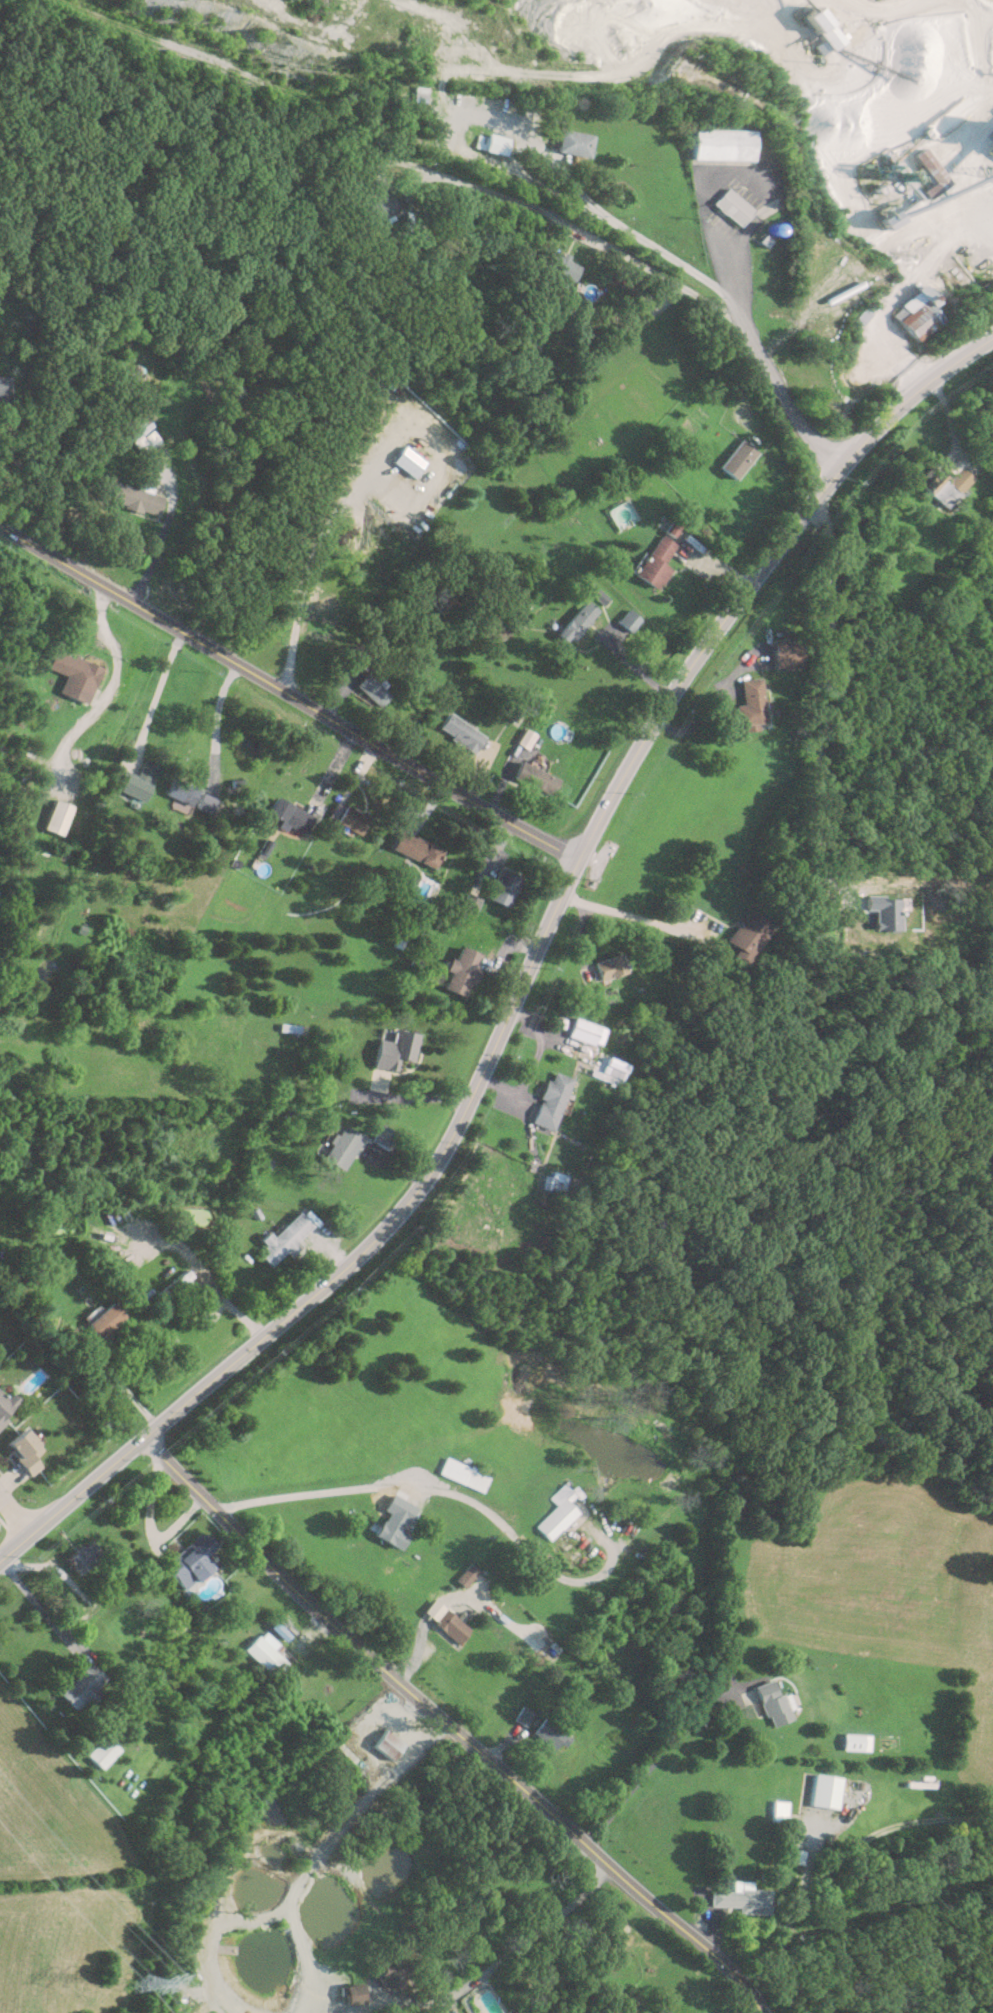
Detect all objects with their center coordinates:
building: (820, 27)
building: (572, 142)
building: (495, 143)
building: (716, 143)
road: (586, 197)
building: (729, 206)
building: (375, 210)
building: (559, 265)
road: (660, 275)
road: (906, 286)
building: (915, 316)
building: (3, 387)
building: (136, 424)
building: (410, 457)
building: (736, 459)
road: (360, 485)
building: (946, 486)
building: (133, 498)
building: (353, 536)
road: (156, 555)
building: (653, 562)
building: (628, 620)
building: (576, 622)
building: (784, 653)
building: (361, 657)
building: (71, 675)
building: (369, 690)
road: (287, 692)
road: (110, 694)
road: (158, 696)
road: (825, 701)
building: (748, 702)
road: (713, 708)
building: (457, 733)
building: (533, 778)
building: (138, 782)
building: (180, 792)
building: (210, 806)
building: (290, 815)
building: (56, 817)
building: (350, 819)
building: (414, 849)
building: (500, 888)
road: (633, 911)
building: (748, 931)
building: (608, 967)
building: (458, 971)
road: (525, 972)
building: (586, 1031)
building: (392, 1050)
road: (411, 1097)
building: (548, 1101)
building: (337, 1146)
building: (283, 1239)
building: (177, 1286)
road: (227, 1302)
building: (103, 1318)
road: (126, 1388)
building: (5, 1405)
building: (22, 1451)
building: (462, 1473)
road: (438, 1490)
road: (16, 1513)
building: (554, 1513)
road: (150, 1528)
building: (391, 1528)
building: (81, 1556)
building: (189, 1560)
building: (468, 1574)
road: (79, 1586)
road: (36, 1599)
building: (451, 1625)
building: (265, 1654)
building: (81, 1686)
building: (766, 1702)
building: (523, 1716)
road: (452, 1728)
building: (549, 1733)
building: (855, 1742)
building: (385, 1744)
building: (101, 1752)
road: (656, 1757)
building: (822, 1790)
building: (777, 1810)
road: (333, 1852)
road: (840, 1858)
building: (739, 1898)
building: (223, 1949)
road: (522, 1955)
building: (388, 1965)
power tower: (134, 1980)
building: (350, 1993)

